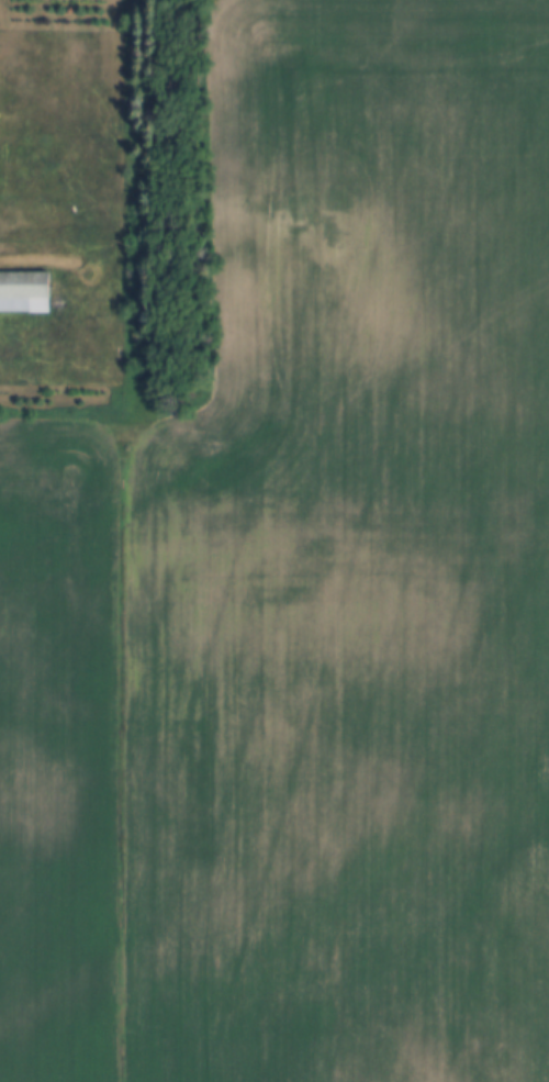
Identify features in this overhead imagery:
building: (23, 294)

